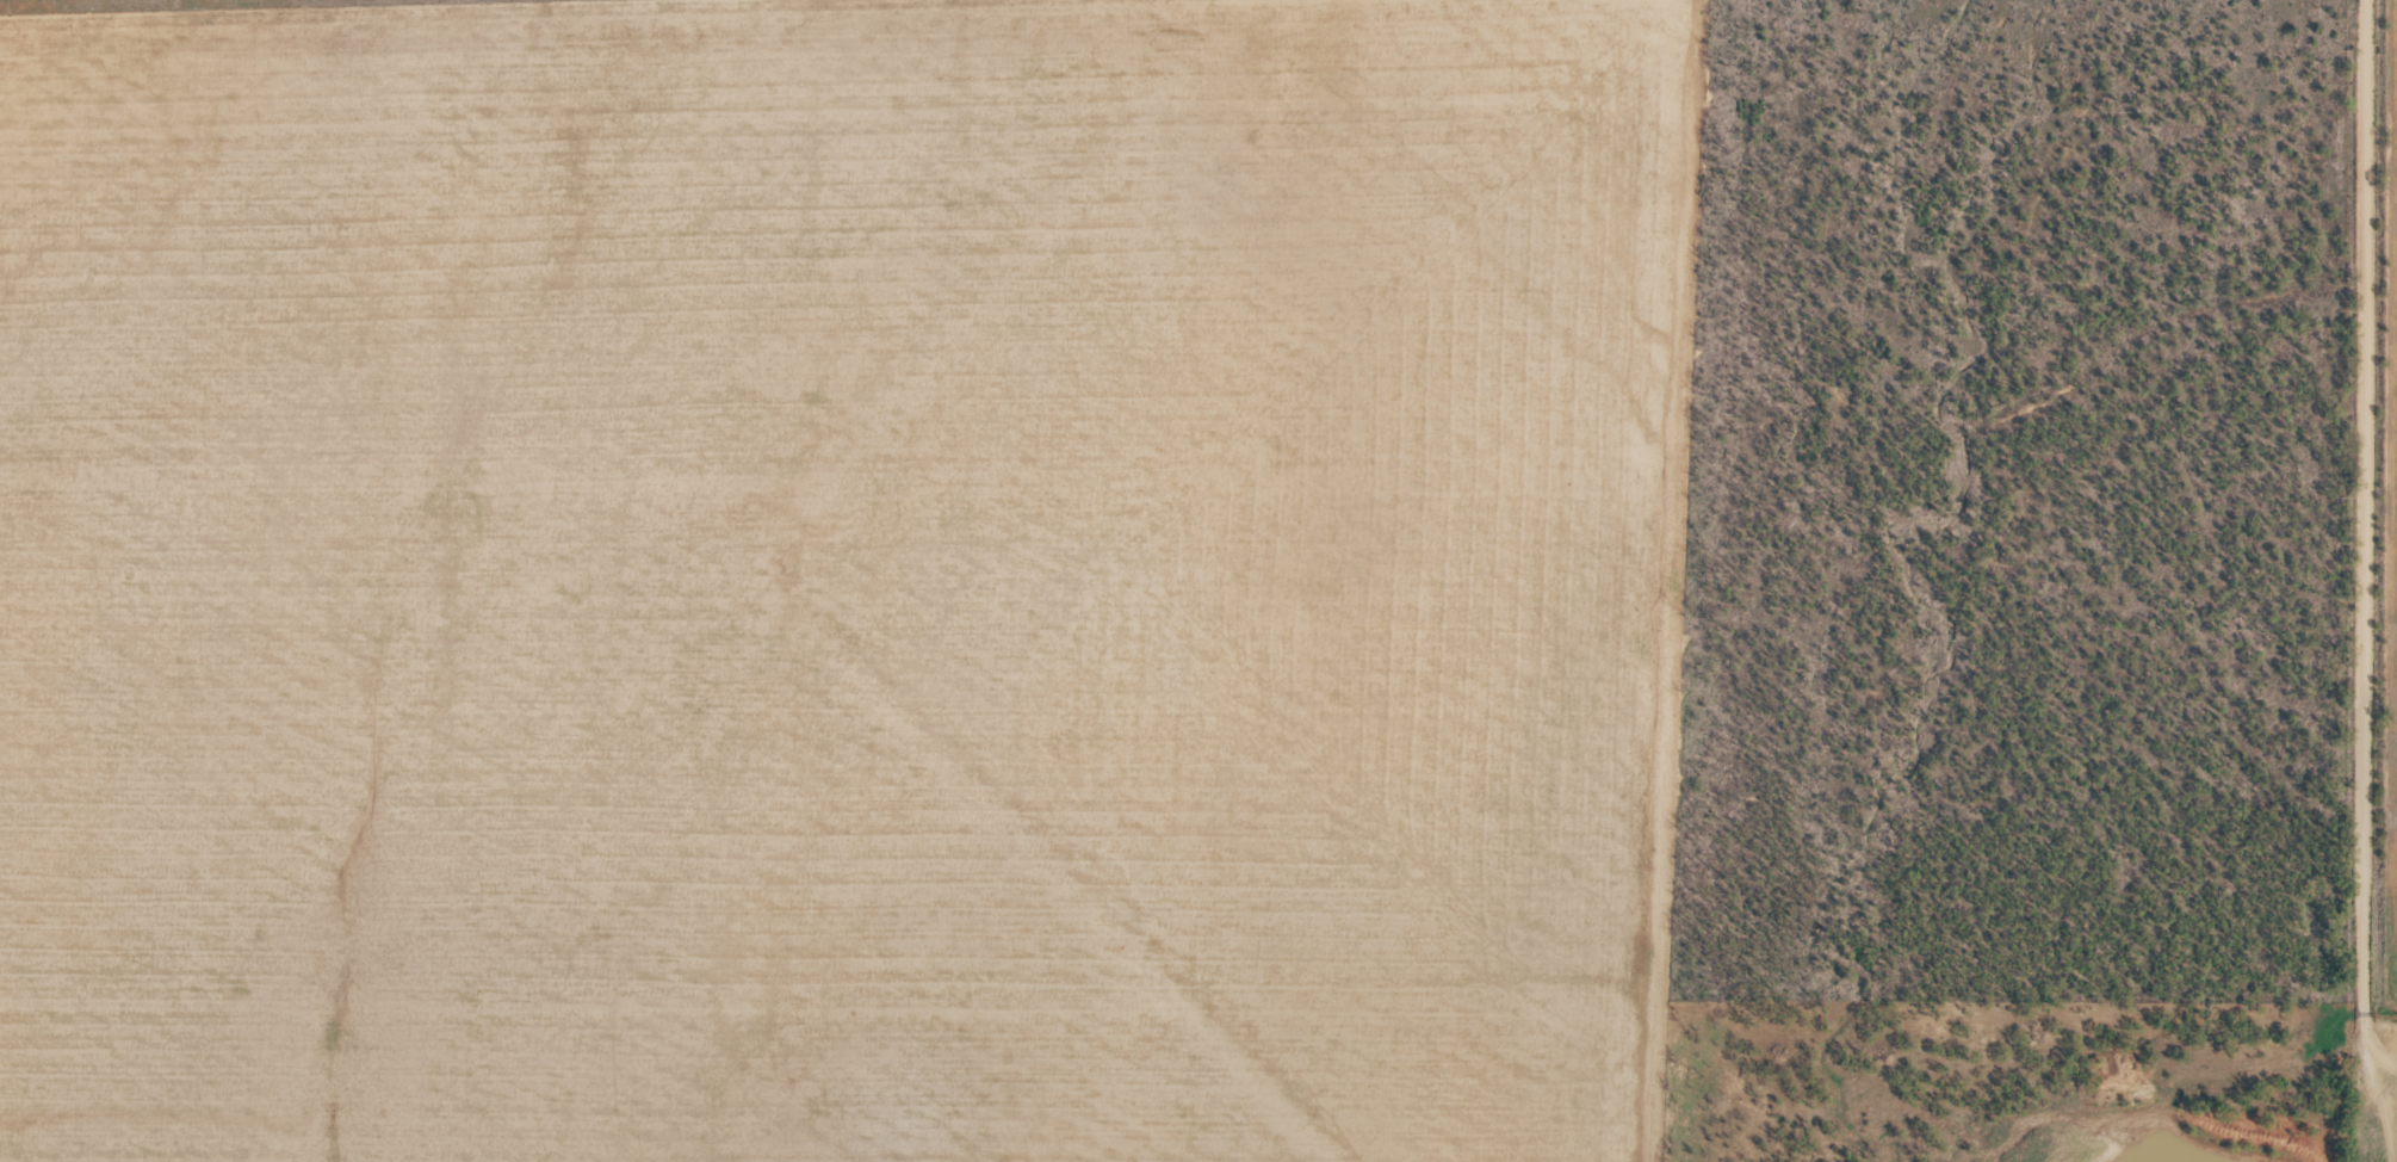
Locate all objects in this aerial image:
road: (2362, 548)
road: (2380, 1095)
road: (2362, 1129)

